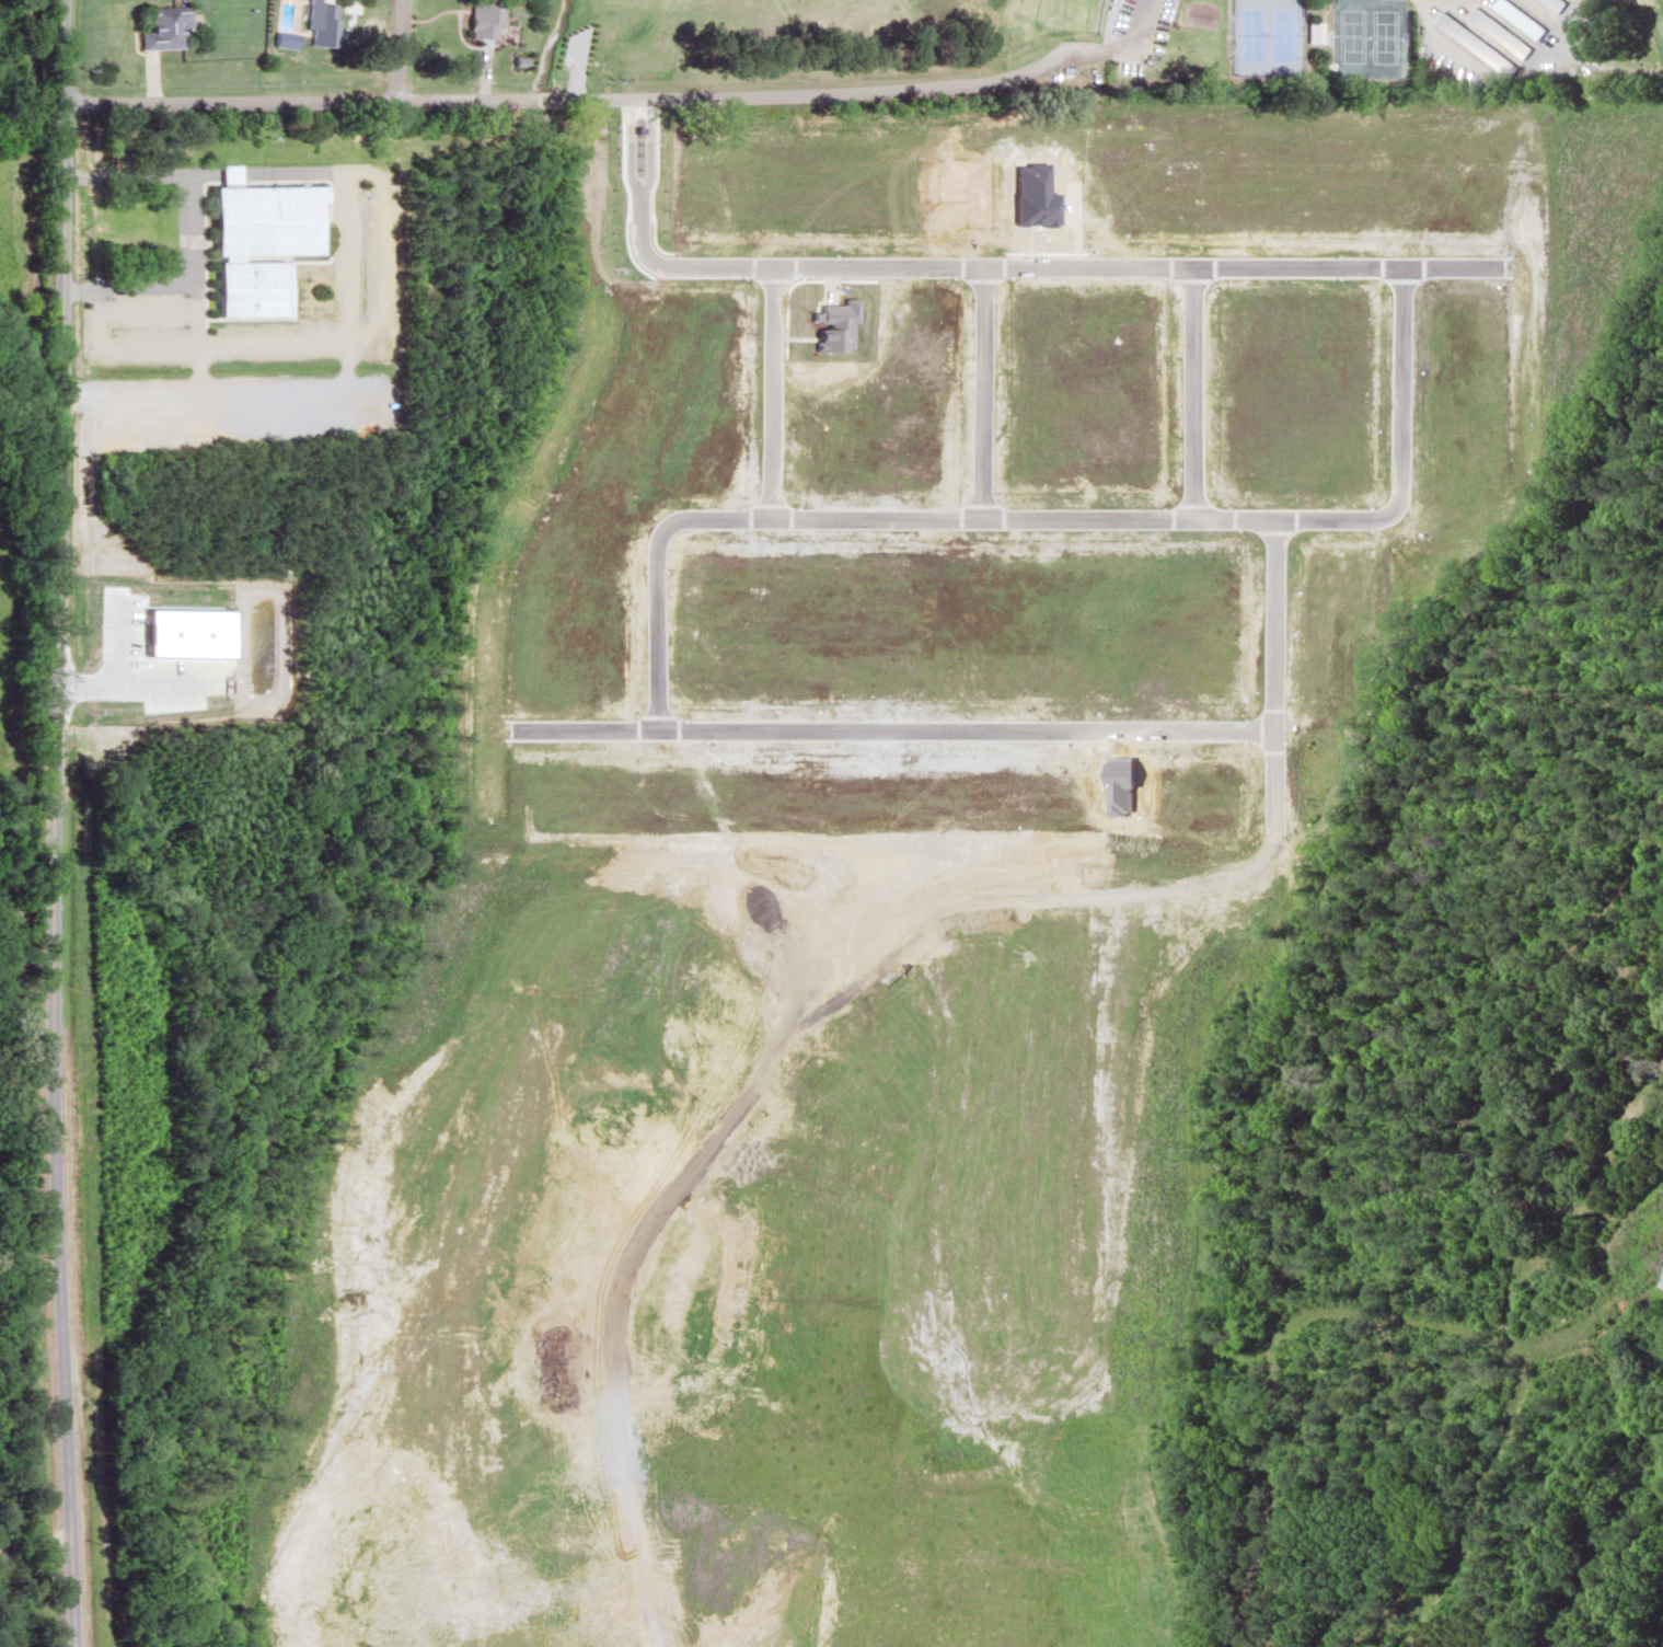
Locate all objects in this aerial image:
building: (1552, 4)
building: (1518, 18)
building: (477, 19)
building: (317, 22)
building: (161, 26)
building: (1498, 32)
park: (1247, 35)
park: (1281, 36)
park: (1347, 37)
park: (1381, 37)
building: (1475, 44)
road: (394, 49)
park: (1088, 51)
road: (600, 103)
building: (254, 240)
road: (54, 823)
road: (32, 1543)

